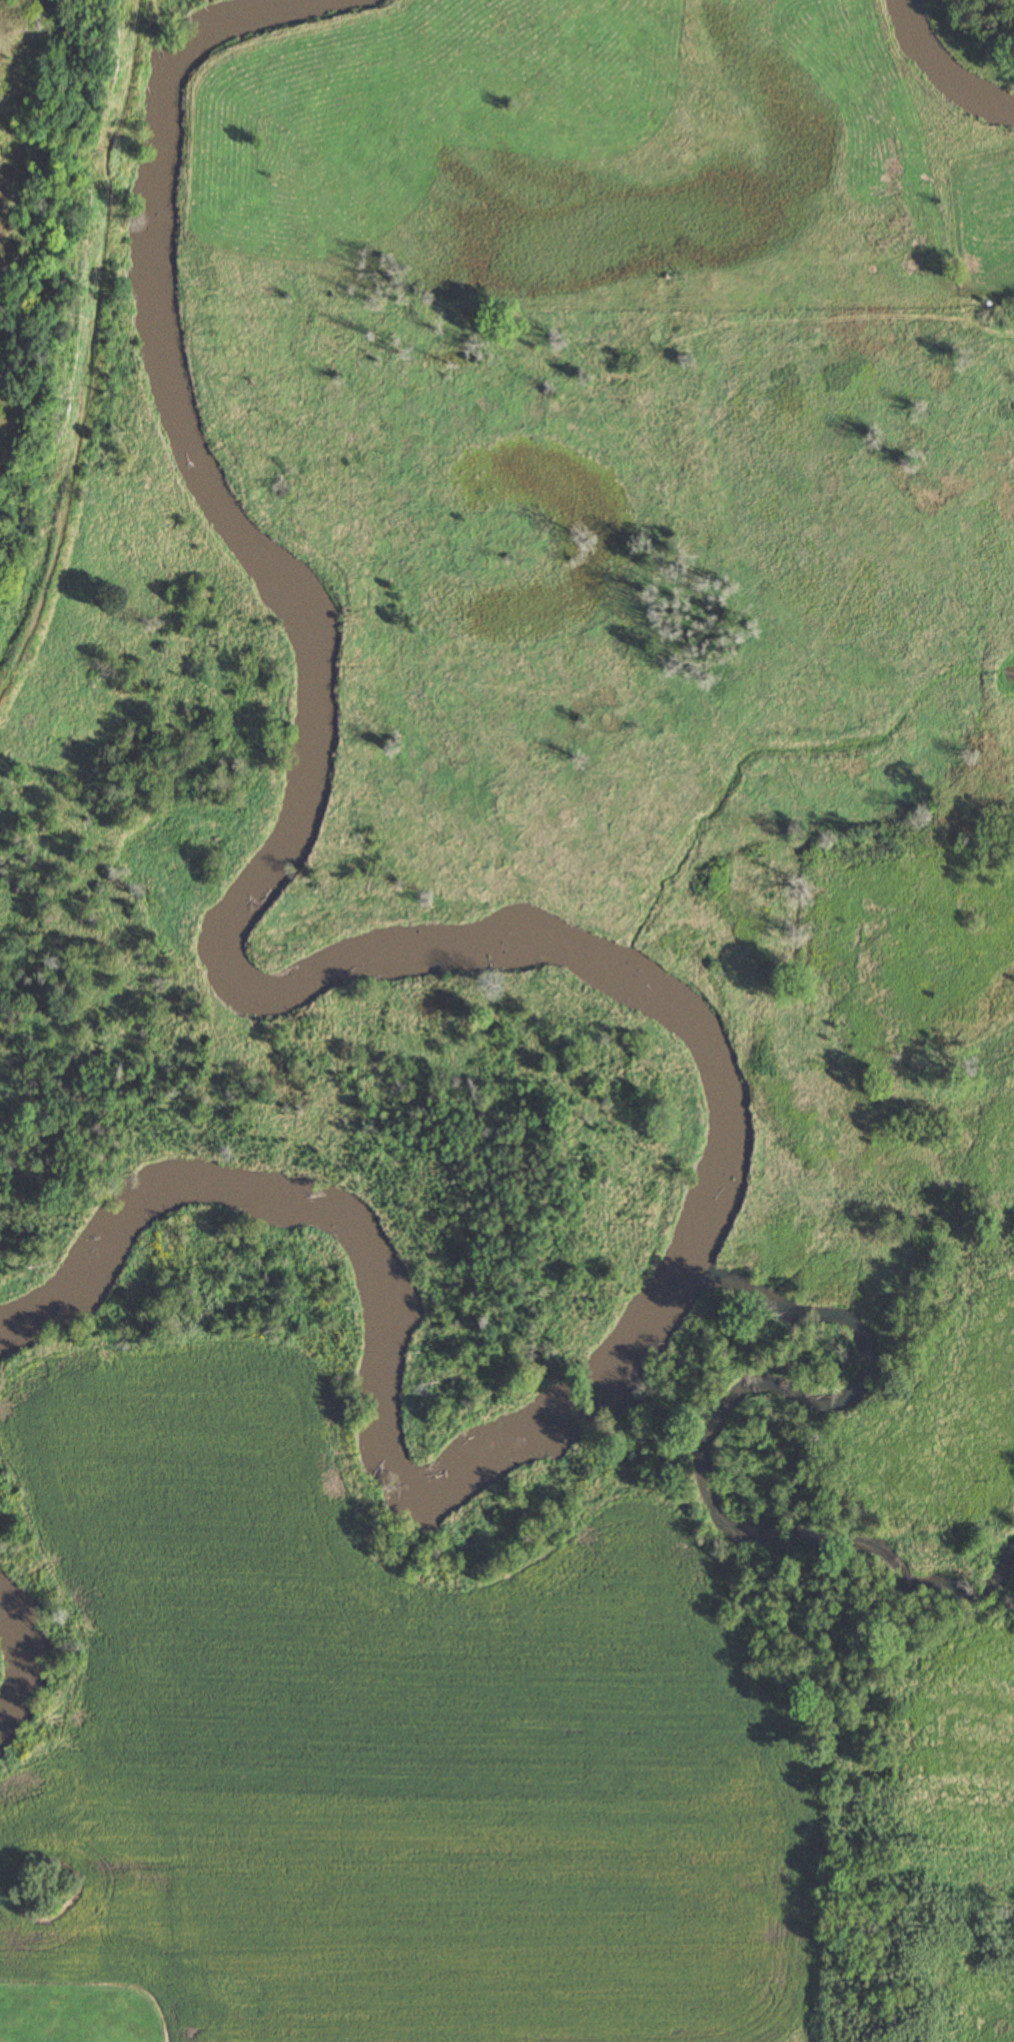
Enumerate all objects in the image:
river: (946, 69)
river: (556, 955)
river: (20, 1653)

